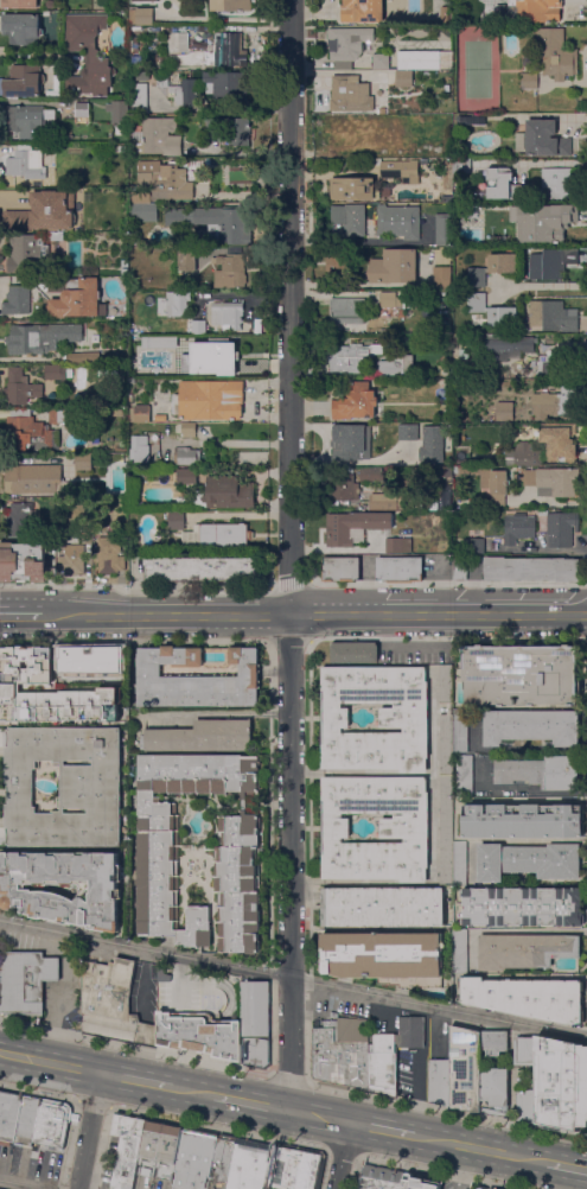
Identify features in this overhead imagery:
building: (142, 0)
building: (19, 4)
building: (232, 5)
building: (363, 11)
building: (540, 11)
building: (145, 17)
building: (23, 30)
building: (178, 43)
building: (134, 44)
building: (346, 46)
building: (229, 50)
road: (31, 53)
building: (556, 55)
building: (88, 56)
building: (425, 59)
building: (138, 61)
building: (381, 62)
building: (404, 78)
building: (162, 80)
building: (530, 81)
building: (24, 82)
building: (228, 85)
building: (190, 91)
building: (351, 95)
building: (140, 97)
building: (82, 110)
building: (119, 112)
building: (432, 119)
building: (466, 120)
building: (26, 121)
building: (395, 122)
building: (231, 129)
building: (349, 135)
building: (157, 136)
building: (543, 139)
building: (122, 150)
building: (425, 161)
building: (27, 163)
road: (534, 164)
building: (459, 166)
building: (398, 170)
building: (166, 179)
building: (557, 182)
building: (505, 184)
building: (355, 189)
building: (447, 199)
building: (459, 199)
building: (142, 208)
building: (44, 212)
building: (351, 218)
building: (559, 220)
building: (400, 221)
building: (217, 222)
building: (444, 229)
building: (56, 236)
building: (522, 239)
road: (369, 241)
building: (27, 254)
building: (444, 255)
building: (187, 259)
building: (340, 261)
building: (553, 262)
building: (395, 266)
building: (493, 268)
building: (230, 271)
building: (442, 276)
road: (545, 290)
building: (76, 298)
building: (398, 299)
building: (18, 301)
building: (178, 304)
building: (349, 311)
building: (493, 311)
building: (231, 314)
building: (554, 316)
building: (198, 326)
building: (42, 338)
building: (509, 345)
building: (353, 356)
building: (83, 358)
building: (212, 358)
building: (396, 367)
building: (549, 367)
building: (53, 373)
building: (21, 388)
building: (211, 400)
building: (356, 402)
building: (555, 402)
building: (506, 411)
building: (117, 413)
building: (140, 414)
building: (38, 428)
building: (190, 431)
building: (409, 432)
road: (235, 443)
building: (351, 443)
building: (432, 444)
building: (563, 447)
building: (140, 451)
building: (187, 456)
building: (84, 462)
building: (444, 472)
building: (378, 473)
building: (187, 476)
building: (36, 479)
building: (555, 481)
building: (491, 482)
building: (344, 487)
building: (226, 492)
building: (484, 496)
building: (442, 497)
building: (390, 501)
building: (177, 520)
building: (20, 521)
building: (519, 528)
building: (562, 528)
building: (363, 530)
building: (218, 535)
building: (477, 546)
road: (292, 554)
building: (110, 555)
building: (72, 560)
building: (24, 562)
building: (460, 567)
building: (342, 568)
building: (531, 568)
building: (202, 570)
building: (400, 570)
road: (289, 583)
road: (447, 584)
road: (135, 591)
road: (20, 613)
road: (130, 615)
road: (256, 616)
road: (323, 616)
road: (452, 616)
road: (568, 616)
building: (355, 653)
building: (101, 667)
building: (522, 675)
building: (197, 679)
building: (446, 685)
building: (11, 686)
road: (225, 713)
building: (404, 718)
building: (531, 726)
building: (460, 731)
building: (202, 737)
building: (446, 745)
road: (517, 749)
building: (542, 772)
building: (465, 775)
building: (66, 787)
road: (524, 788)
building: (430, 816)
building: (523, 821)
building: (404, 828)
building: (446, 831)
road: (522, 839)
building: (159, 857)
building: (529, 861)
building: (460, 864)
building: (28, 892)
building: (383, 907)
building: (523, 908)
road: (513, 930)
building: (525, 950)
building: (462, 952)
building: (387, 958)
road: (293, 979)
building: (25, 981)
building: (528, 997)
building: (110, 1003)
building: (255, 1010)
building: (411, 1032)
building: (199, 1034)
road: (134, 1048)
building: (256, 1053)
building: (340, 1055)
road: (50, 1063)
building: (382, 1064)
building: (478, 1072)
building: (537, 1077)
road: (286, 1080)
road: (135, 1081)
building: (441, 1082)
building: (562, 1083)
road: (38, 1092)
road: (192, 1092)
road: (249, 1102)
road: (91, 1104)
road: (446, 1112)
building: (8, 1114)
road: (318, 1117)
building: (25, 1121)
building: (50, 1123)
road: (217, 1128)
road: (89, 1131)
road: (382, 1131)
building: (134, 1149)
road: (480, 1150)
road: (340, 1152)
road: (343, 1156)
building: (191, 1157)
building: (247, 1164)
building: (289, 1168)
road: (567, 1168)
road: (440, 1172)
building: (382, 1177)
building: (419, 1183)
road: (18, 1184)
building: (477, 1188)
building: (480, 1188)
building: (490, 1188)

